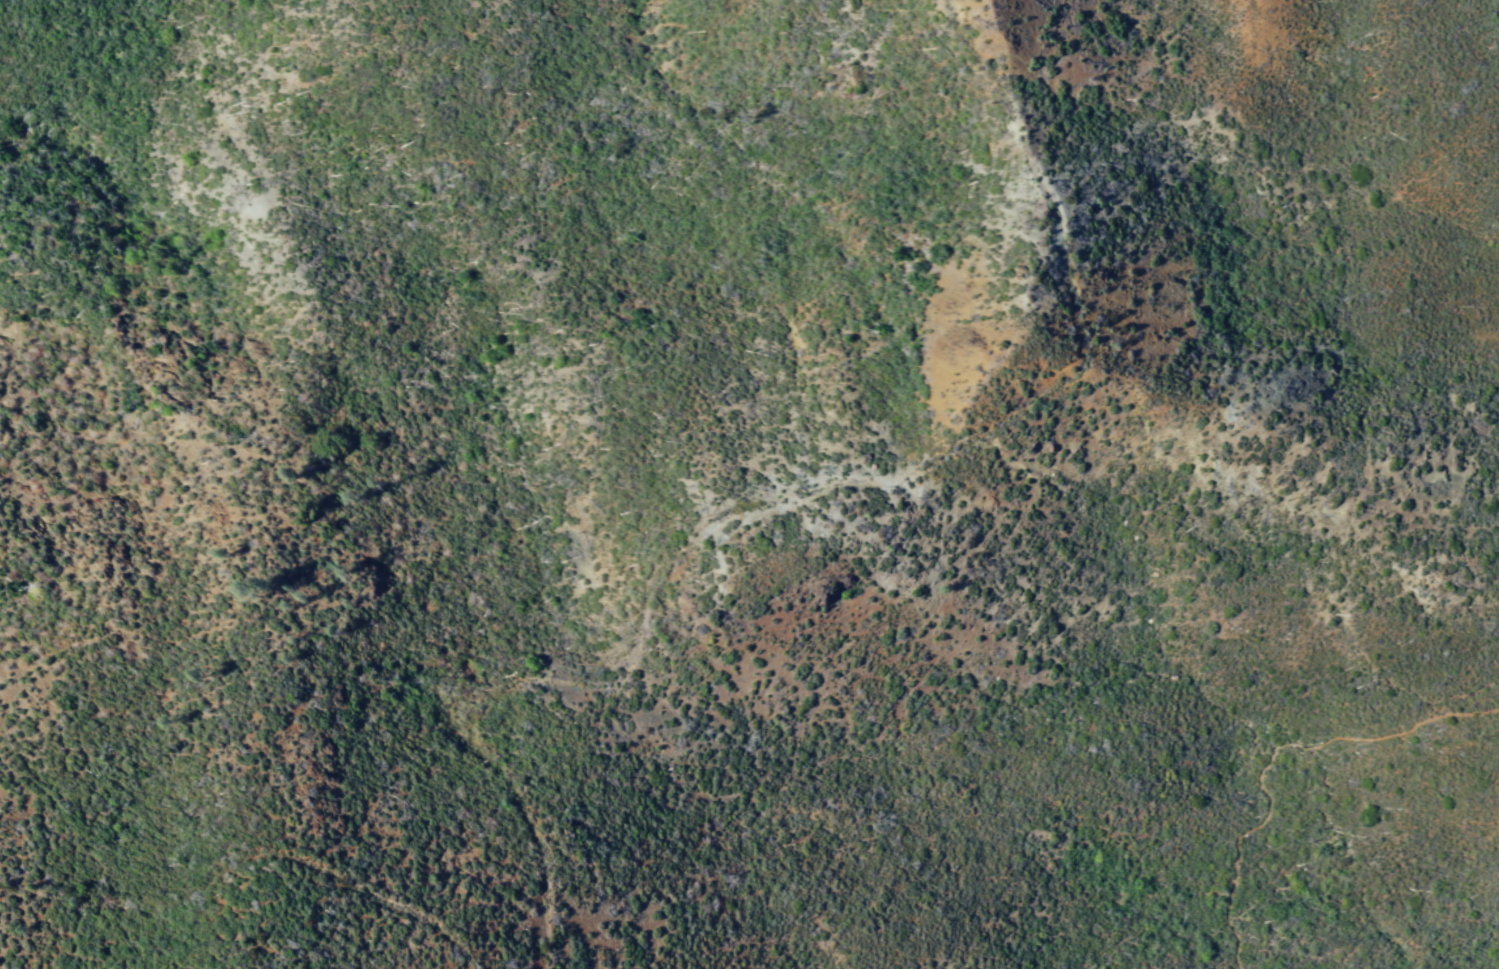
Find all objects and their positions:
road: (789, 504)
road: (245, 848)

